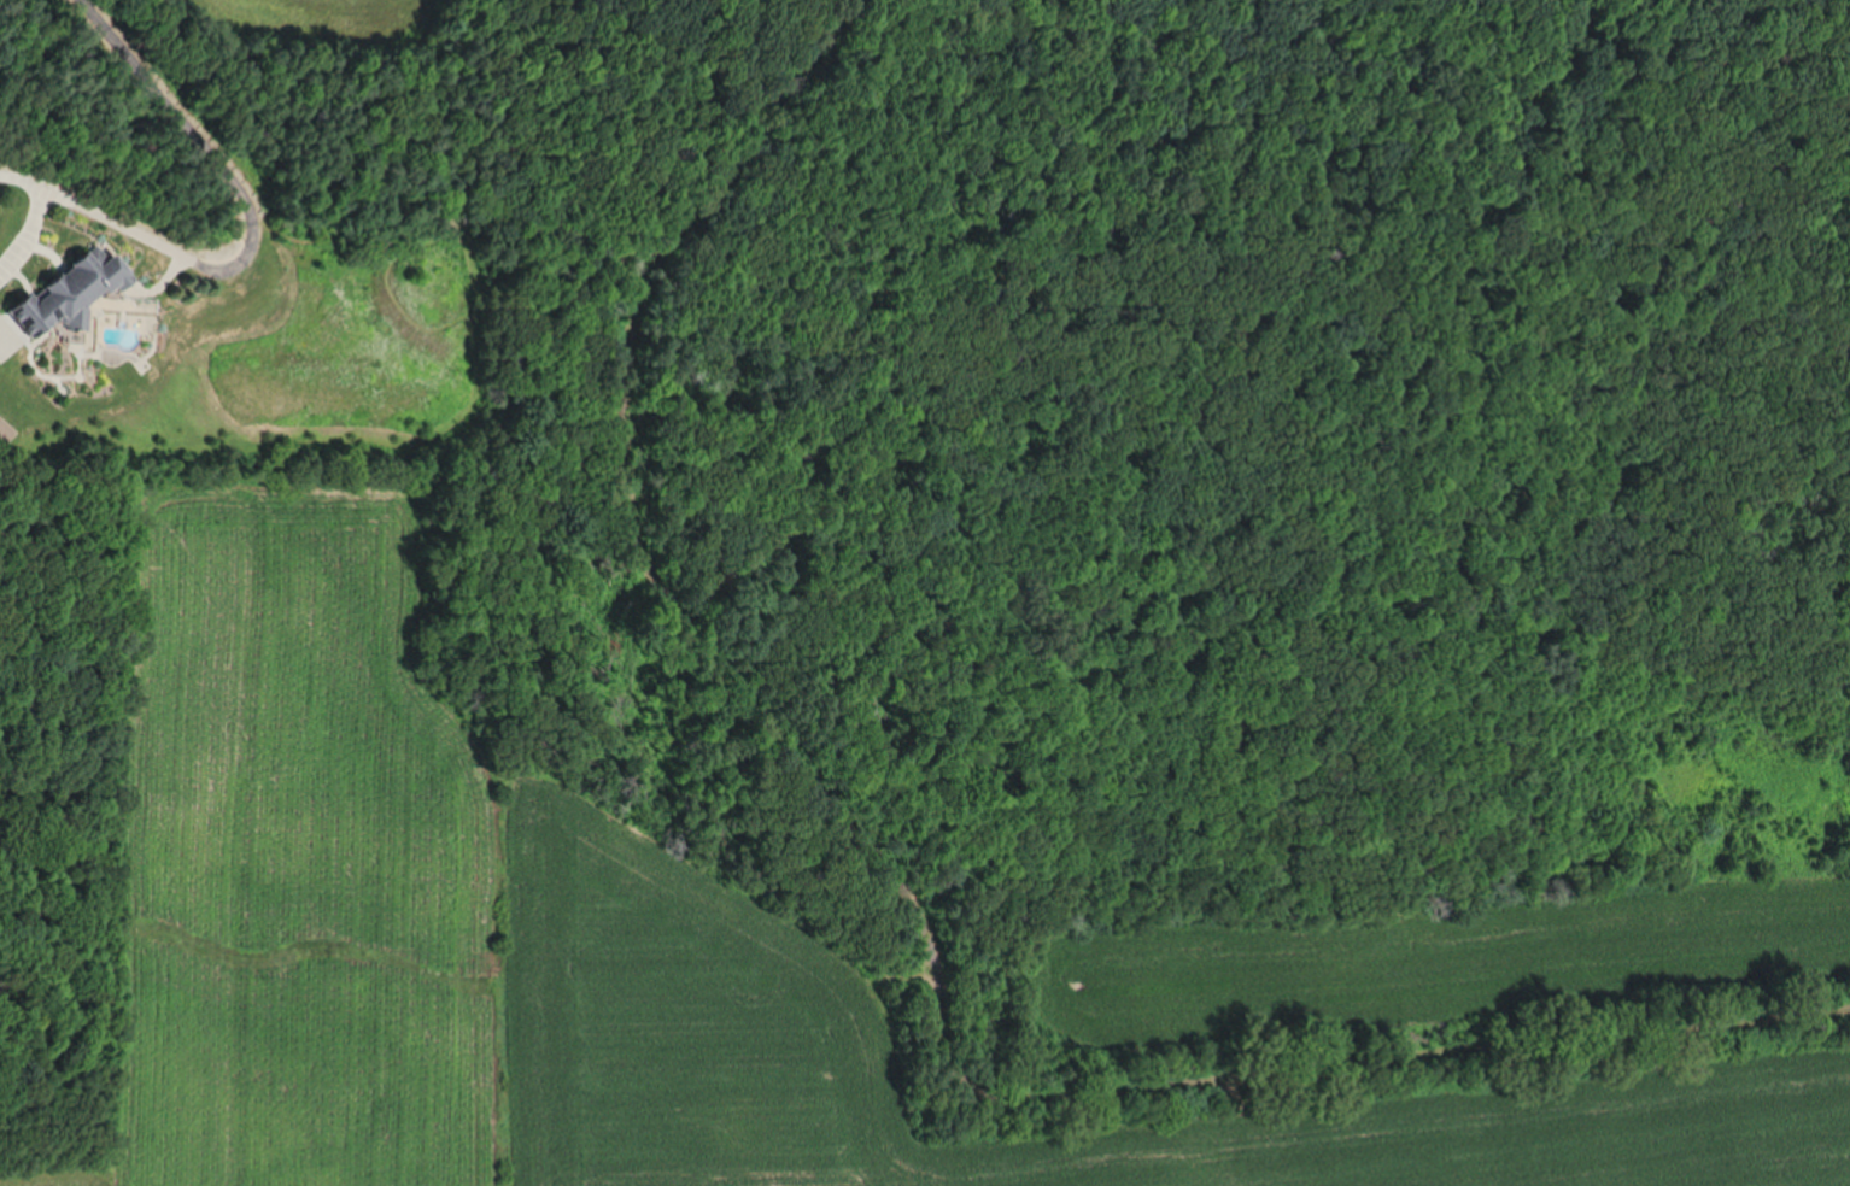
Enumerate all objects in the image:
road: (212, 147)
building: (58, 294)

